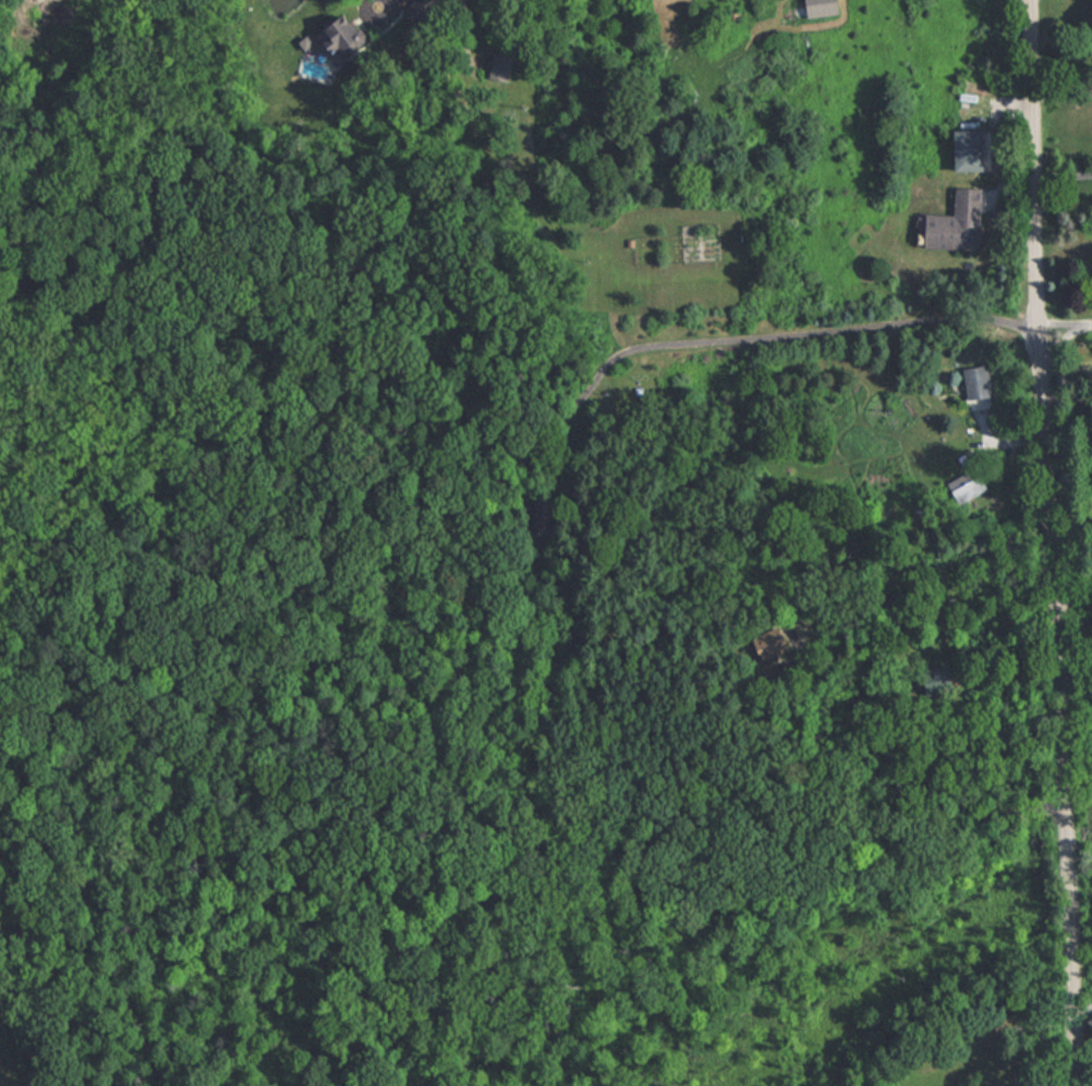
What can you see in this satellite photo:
building: (815, 8)
building: (347, 40)
building: (958, 150)
road: (1061, 173)
building: (954, 223)
road: (759, 349)
building: (972, 381)
road: (1051, 542)
road: (1004, 709)
road: (875, 842)
road: (1083, 1010)

